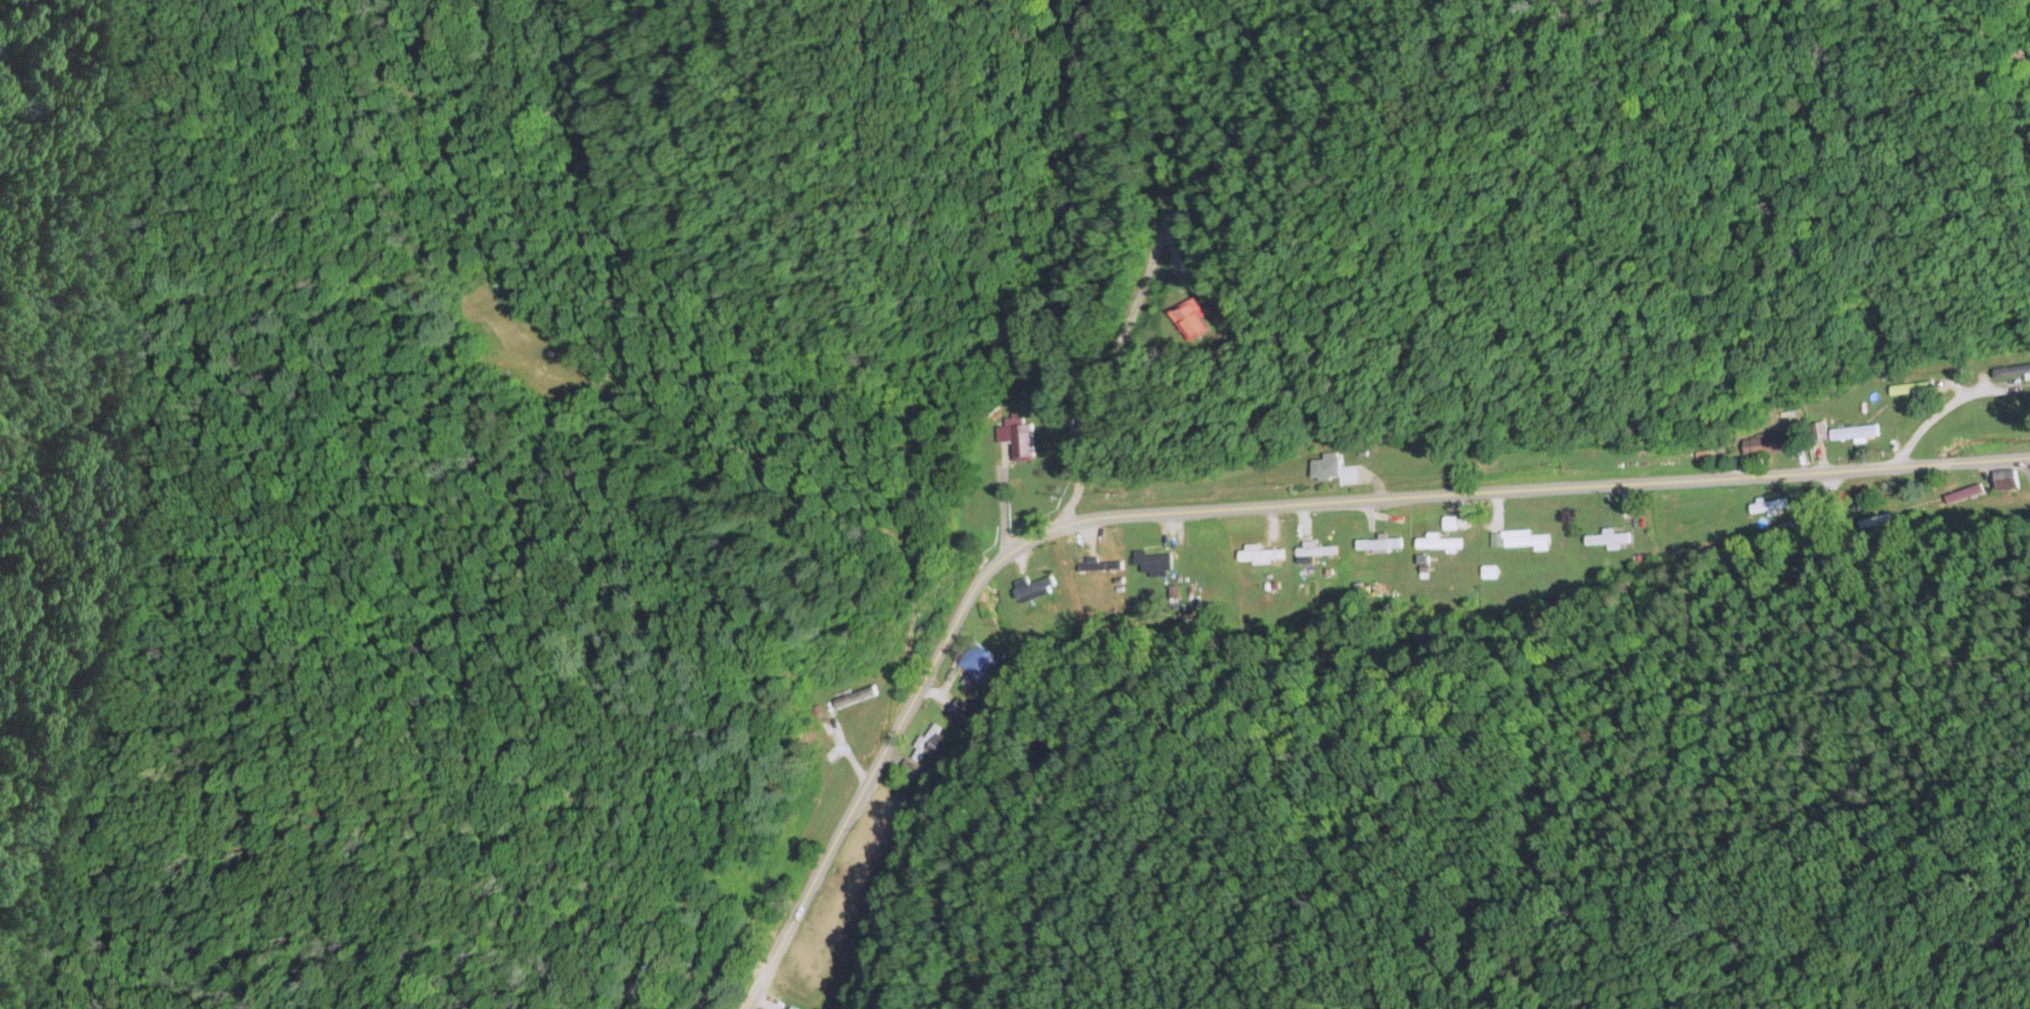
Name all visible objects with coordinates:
road: (1048, 288)
building: (1183, 320)
building: (2010, 370)
building: (1815, 429)
building: (1851, 431)
building: (1016, 437)
building: (1763, 443)
building: (1330, 468)
road: (1778, 472)
building: (1768, 504)
building: (1604, 537)
building: (1523, 540)
building: (1375, 542)
building: (1435, 542)
building: (1313, 549)
road: (1006, 551)
building: (1257, 554)
building: (1205, 555)
building: (1151, 562)
building: (1098, 564)
building: (1031, 587)
building: (979, 664)
building: (845, 699)
building: (965, 713)
building: (933, 743)
building: (915, 772)
building: (884, 810)
building: (832, 922)
building: (639, 980)
building: (805, 980)
building: (790, 1007)

